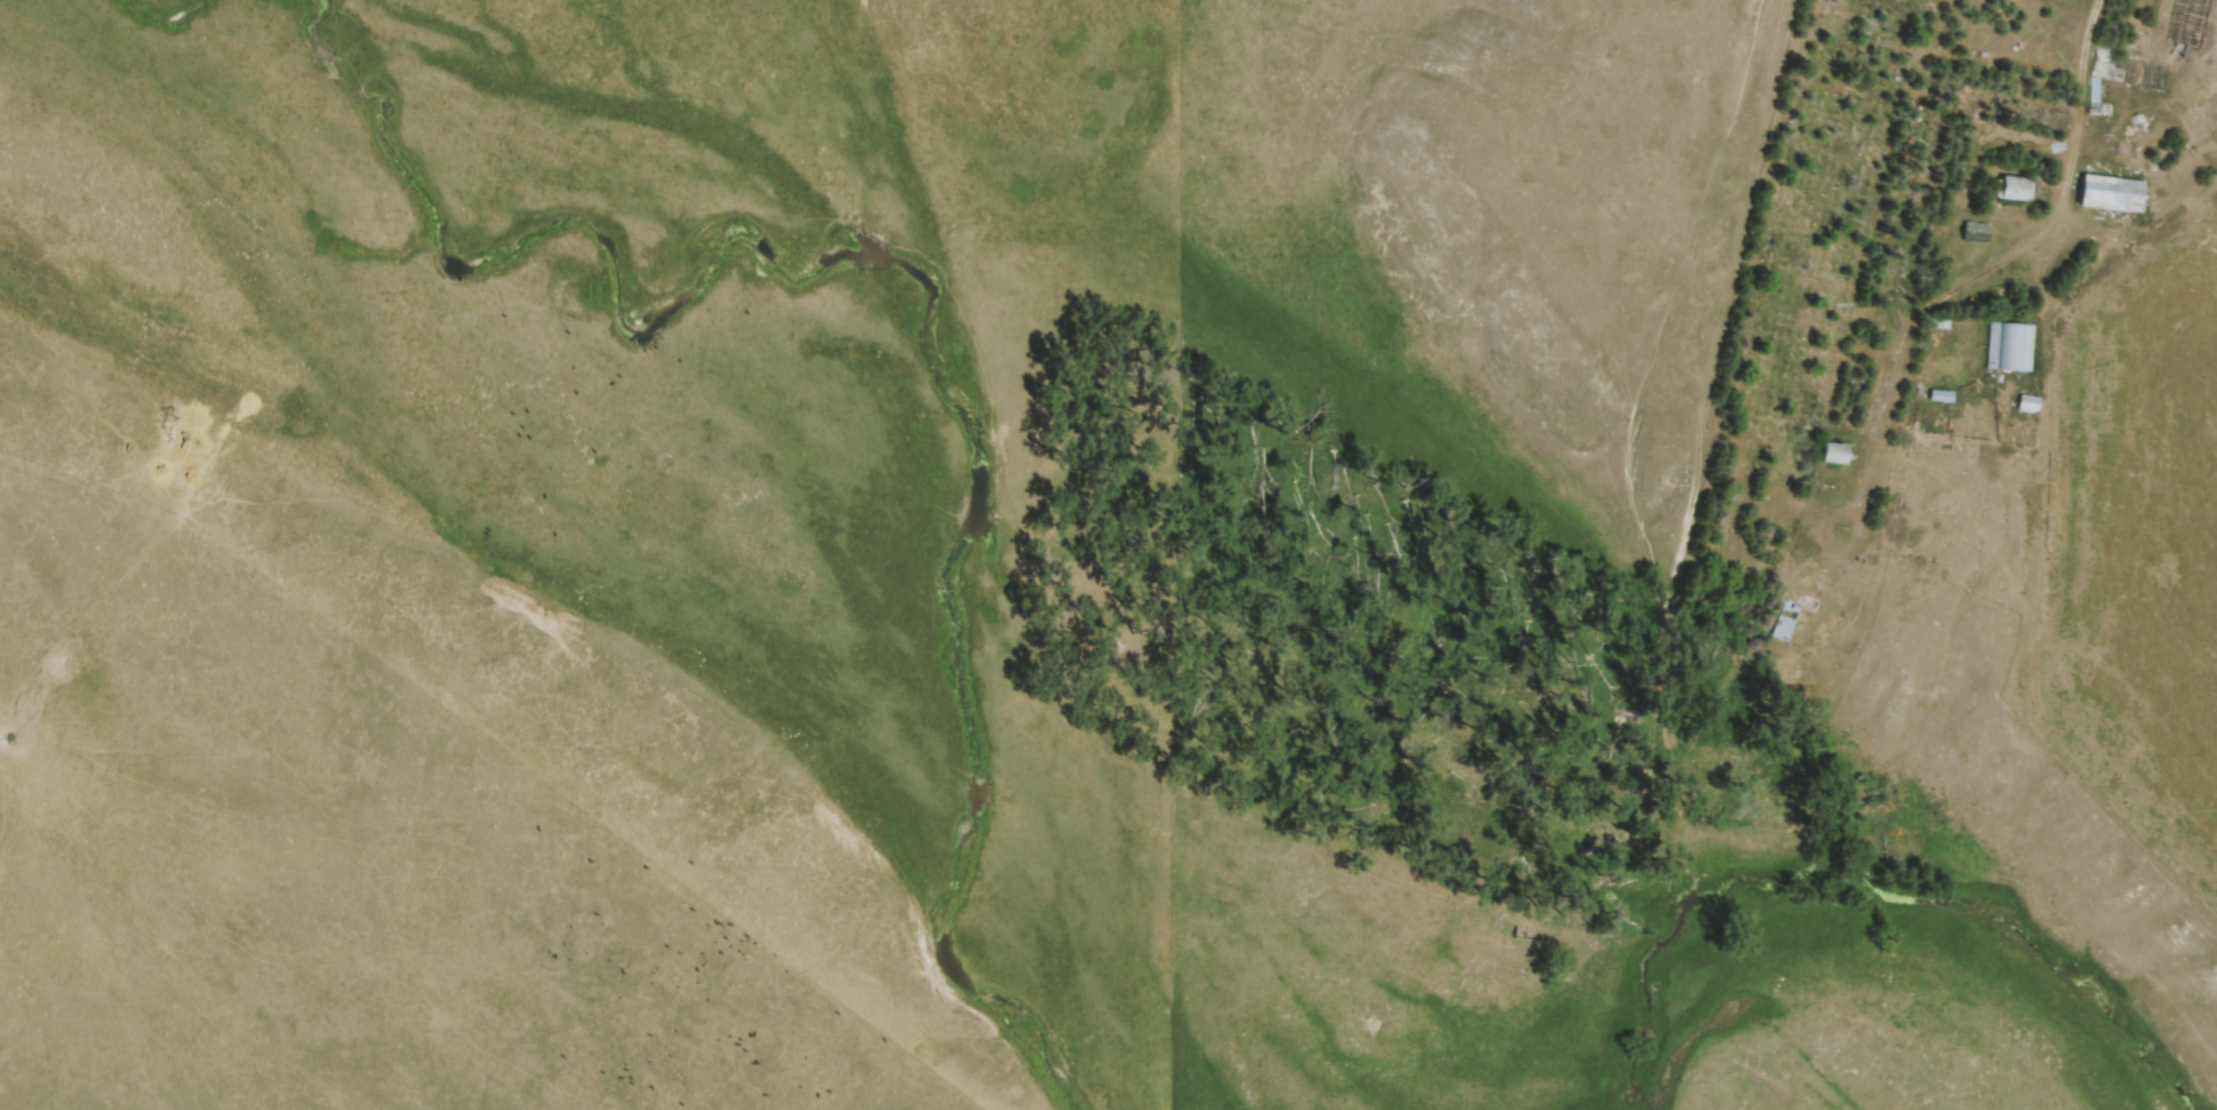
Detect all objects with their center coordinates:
building: (2100, 60)
road: (2076, 98)
building: (2012, 188)
building: (2109, 193)
building: (1972, 231)
building: (2009, 346)
building: (1937, 395)
building: (1831, 452)
building: (1782, 620)

